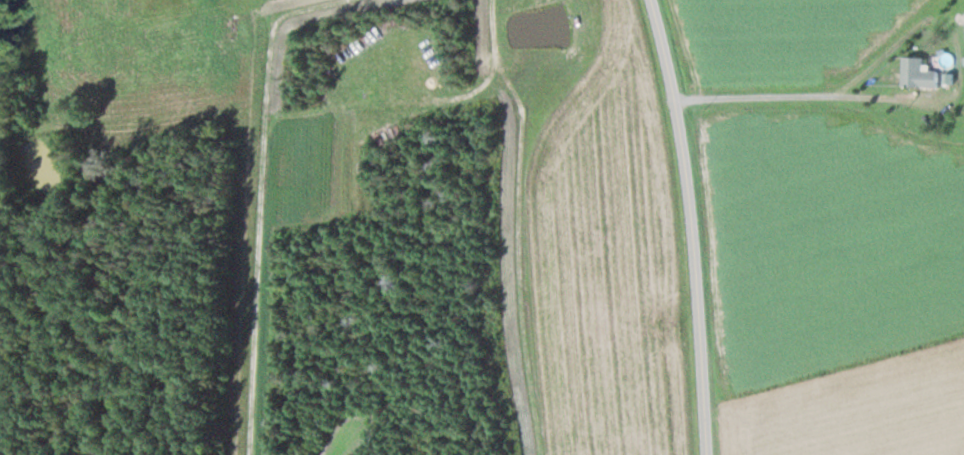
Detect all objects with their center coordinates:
building: (232, 29)
building: (918, 75)
road: (696, 225)

